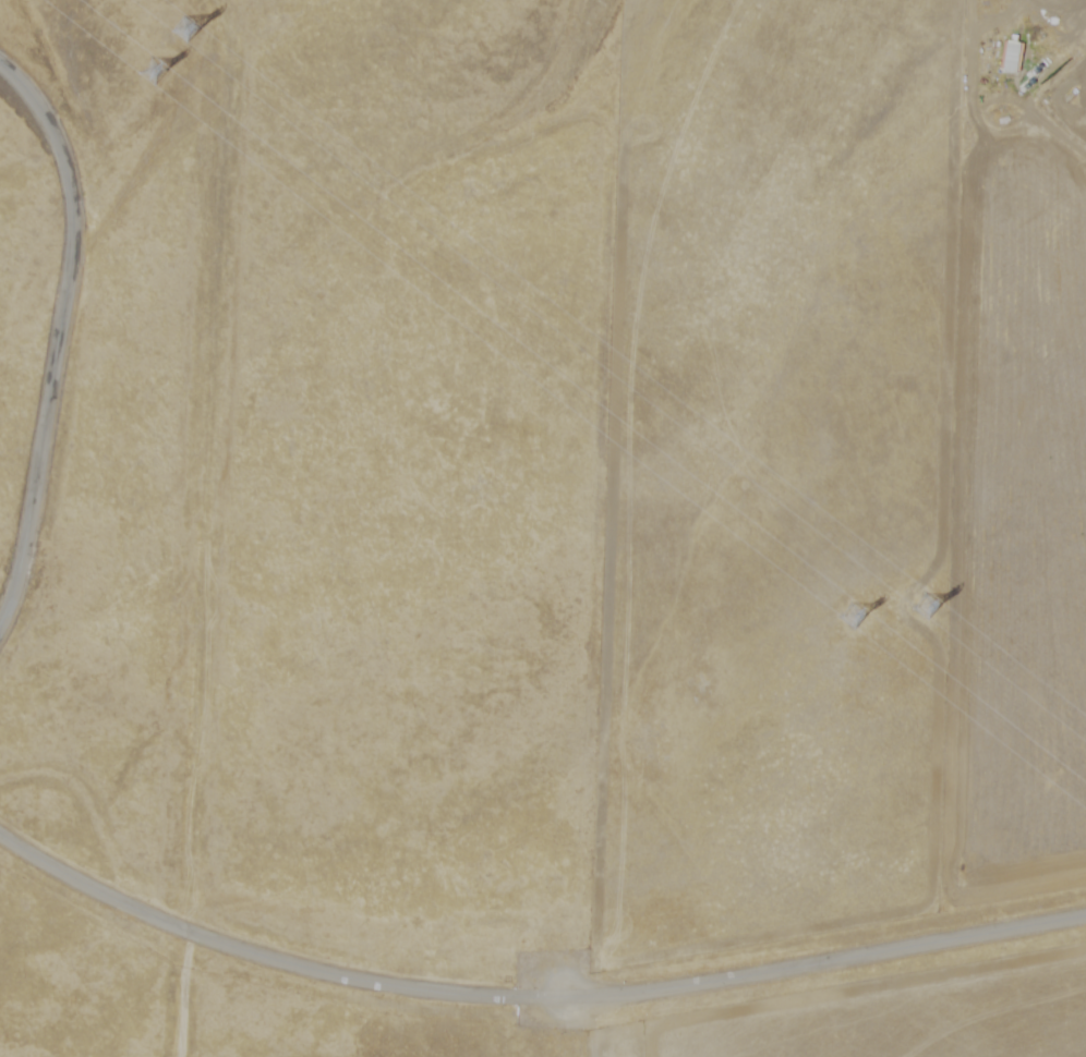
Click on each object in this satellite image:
power tower: (186, 33)
building: (1000, 52)
power tower: (155, 73)
road: (62, 331)
park: (297, 524)
power tower: (930, 610)
power tower: (858, 625)
road: (529, 1004)

